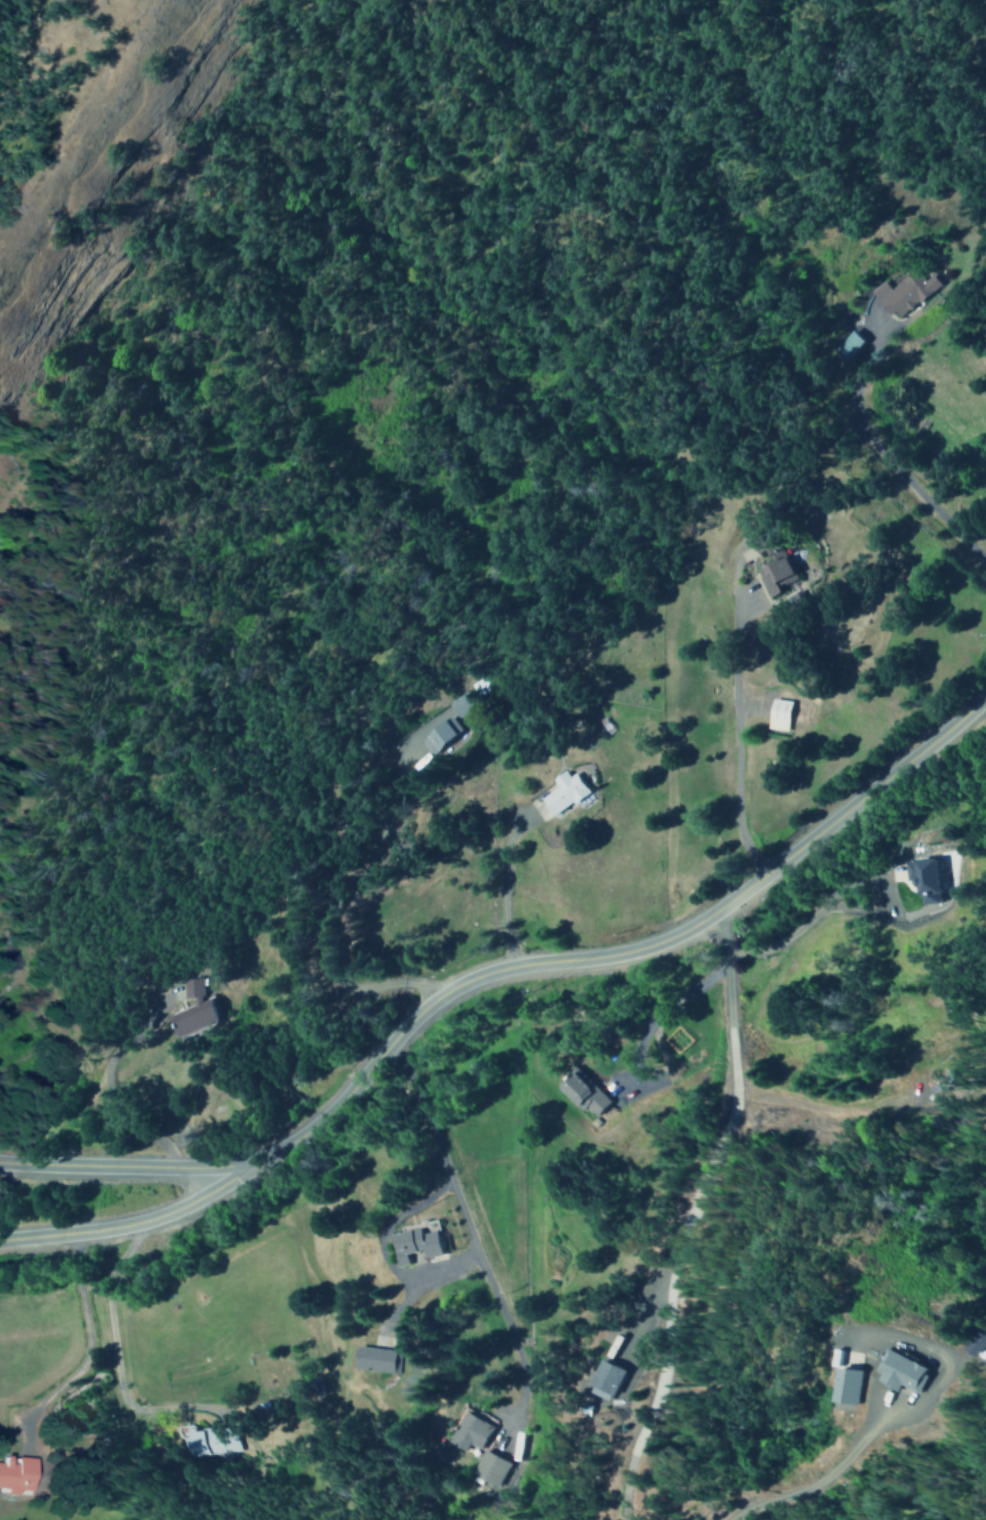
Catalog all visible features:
building: (903, 292)
building: (848, 345)
building: (774, 576)
building: (775, 714)
building: (443, 736)
building: (567, 791)
building: (921, 879)
road: (615, 948)
building: (198, 1007)
building: (588, 1094)
road: (118, 1166)
road: (696, 1211)
road: (121, 1217)
building: (419, 1241)
road: (478, 1243)
road: (387, 1259)
building: (378, 1359)
building: (905, 1373)
building: (609, 1380)
building: (851, 1385)
building: (473, 1432)
building: (211, 1440)
road: (870, 1446)
building: (491, 1467)
building: (16, 1474)

